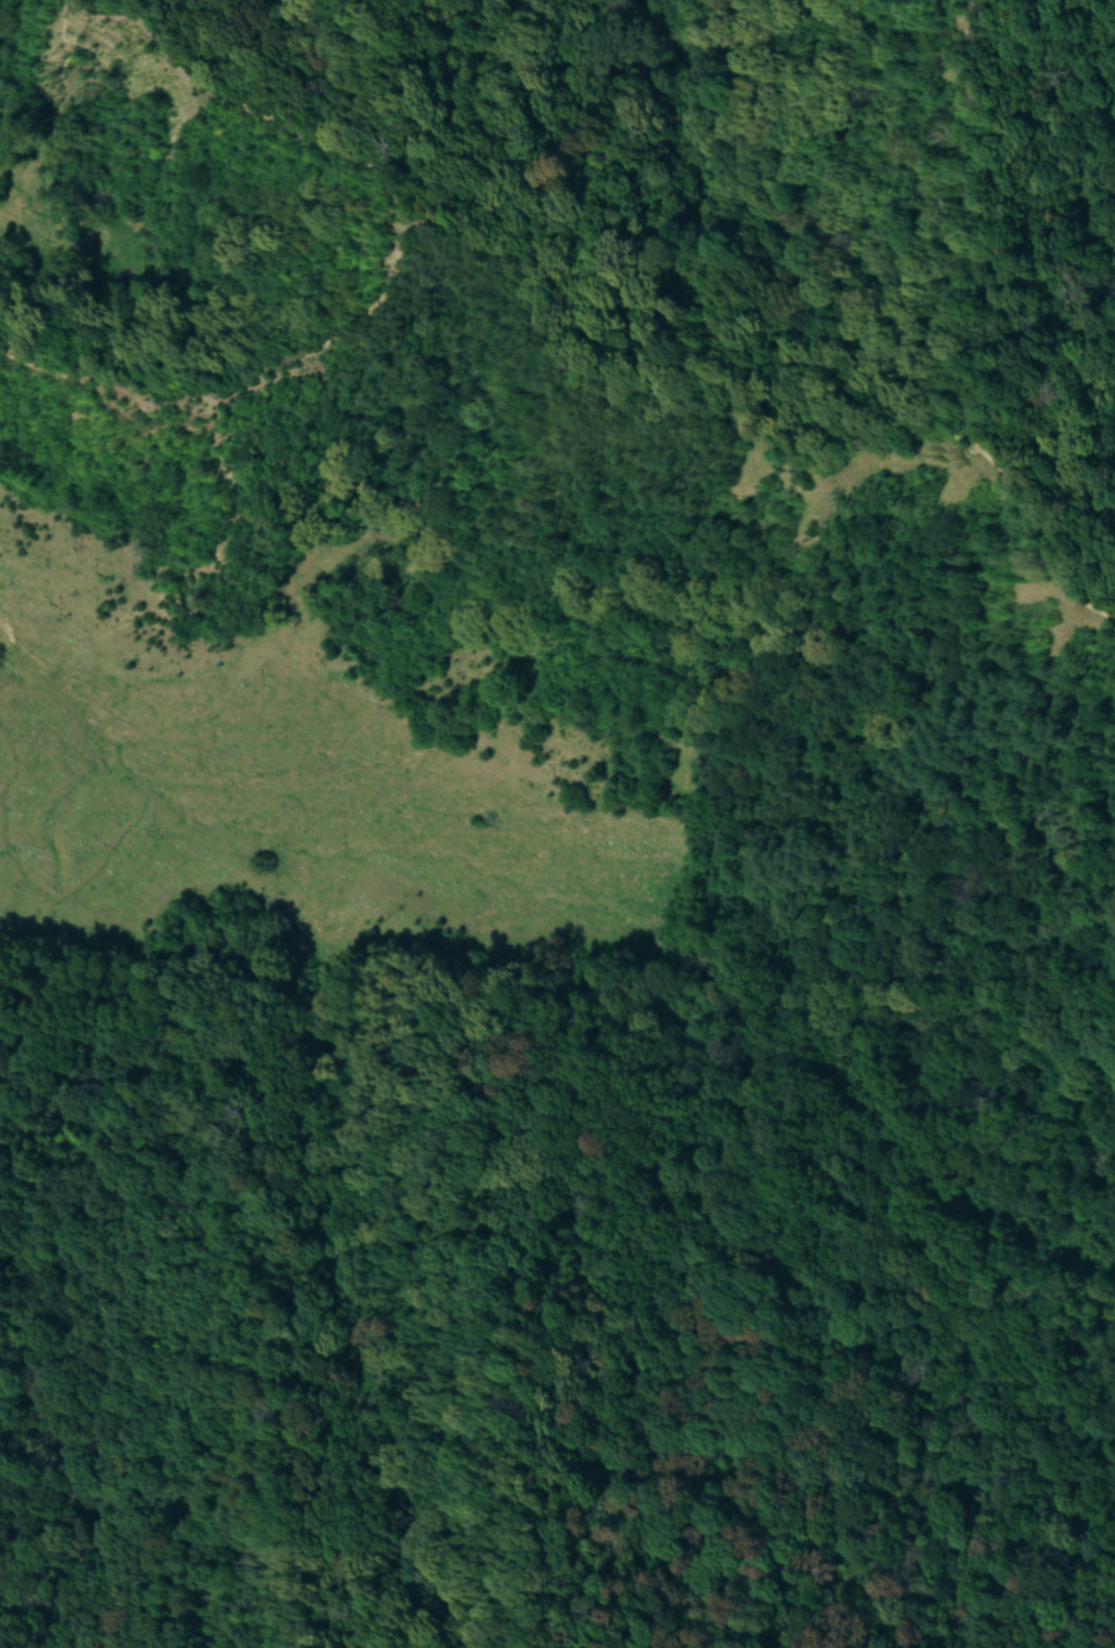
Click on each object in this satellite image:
road: (957, 440)

